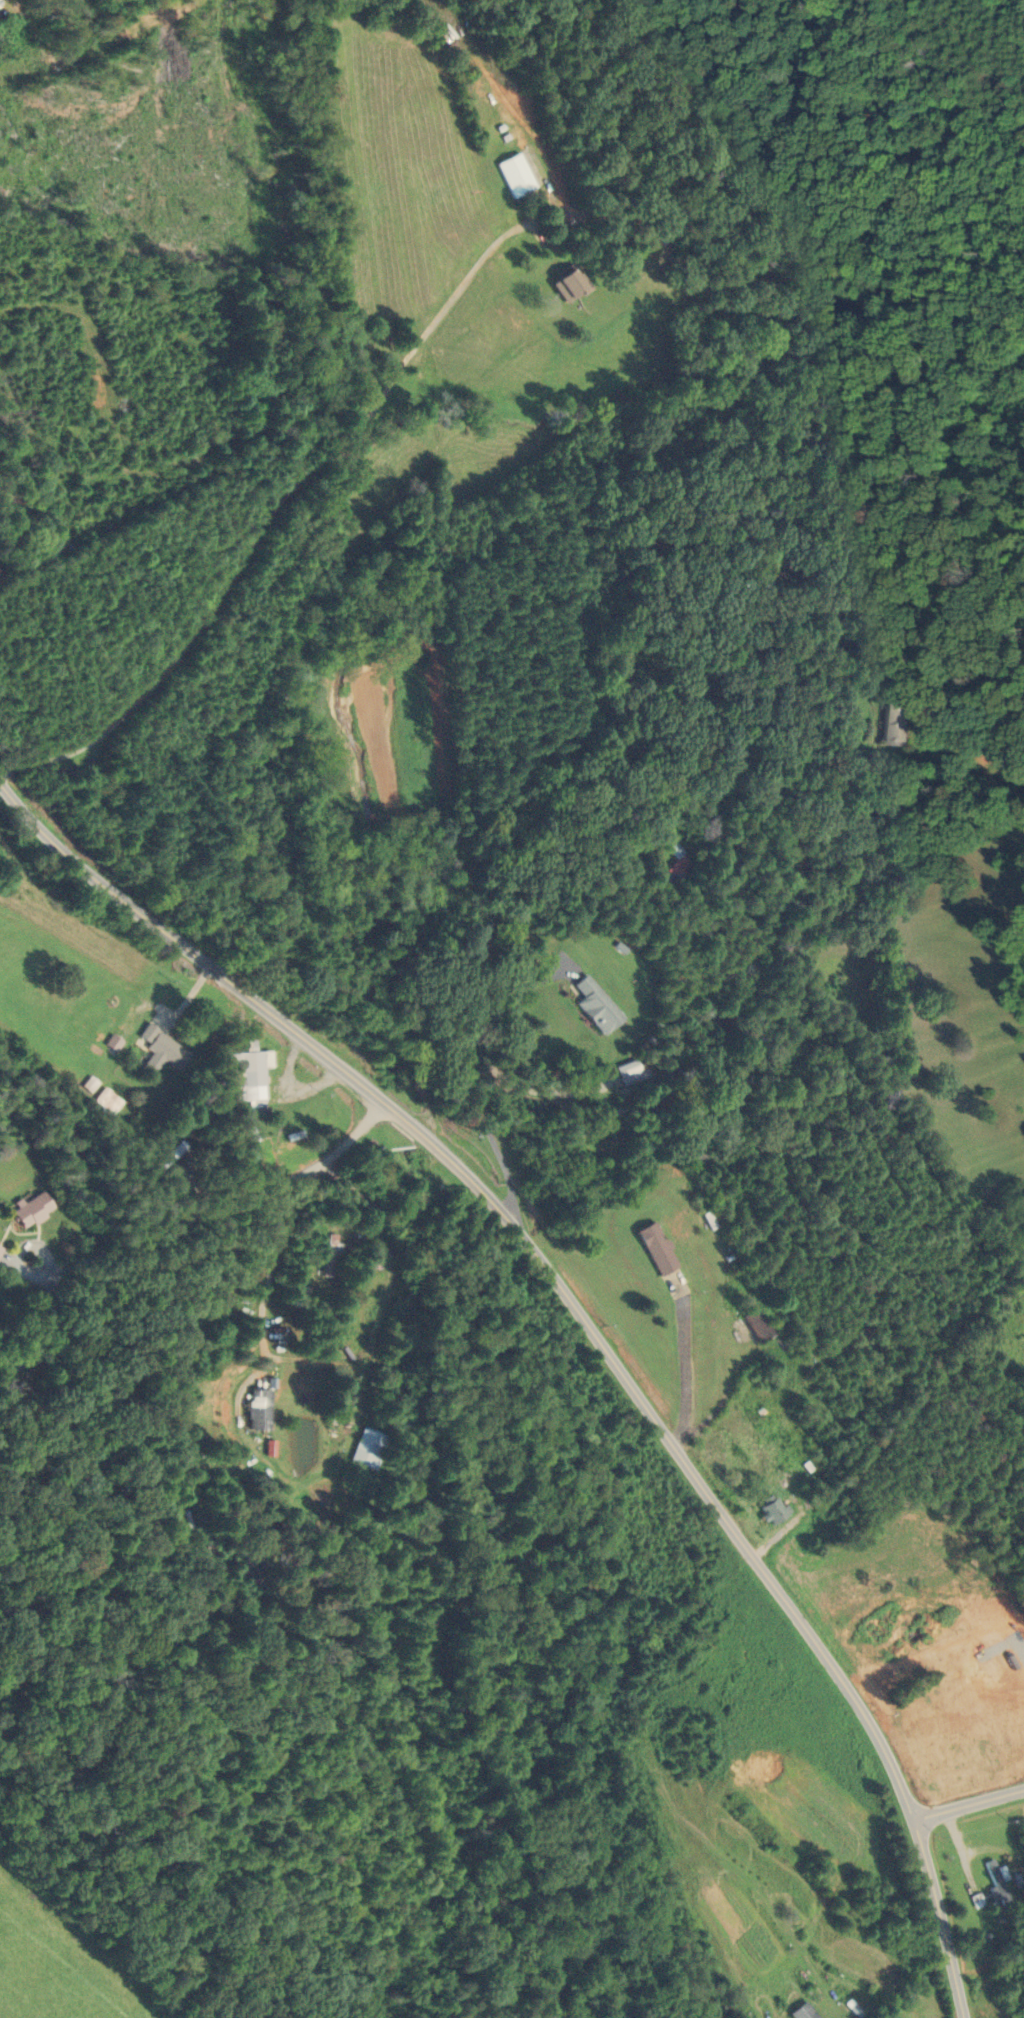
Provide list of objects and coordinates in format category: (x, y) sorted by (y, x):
building: (515, 175)
building: (566, 285)
road: (270, 513)
building: (729, 676)
building: (893, 723)
road: (962, 735)
building: (668, 876)
building: (594, 1002)
building: (159, 1047)
road: (467, 1071)
building: (104, 1103)
building: (245, 1125)
road: (138, 1240)
road: (199, 1248)
building: (656, 1248)
road: (21, 1256)
road: (52, 1272)
road: (386, 1307)
road: (586, 1321)
building: (759, 1324)
road: (29, 1350)
road: (366, 1390)
building: (258, 1409)
building: (368, 1448)
building: (772, 1509)
building: (248, 1571)
building: (924, 1718)
road: (968, 1804)
building: (998, 1883)
building: (802, 2012)

